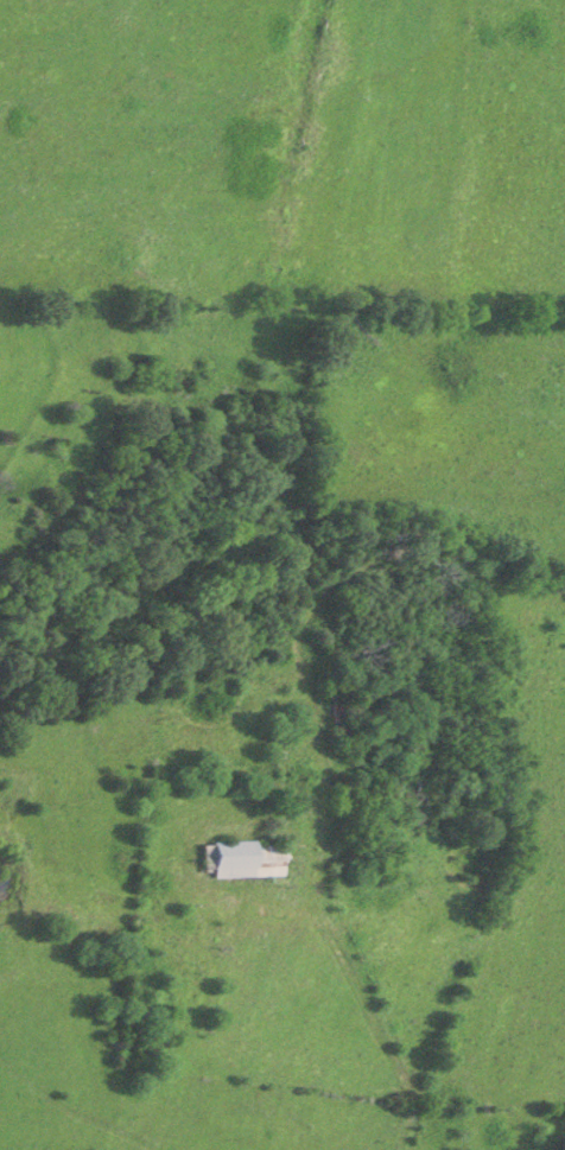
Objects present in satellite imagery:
building: (330, 716)
building: (242, 858)
road: (370, 1006)

